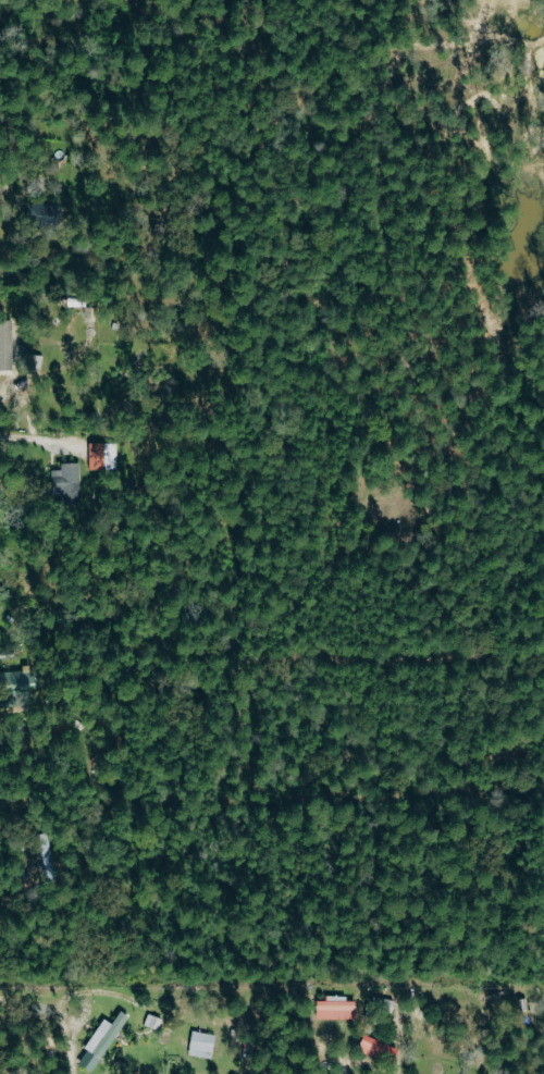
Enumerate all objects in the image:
road: (8, 212)
building: (45, 214)
building: (7, 345)
road: (22, 440)
building: (103, 457)
building: (67, 481)
building: (17, 682)
building: (46, 855)
road: (17, 900)
road: (66, 1005)
building: (337, 1008)
building: (102, 1041)
building: (202, 1045)
building: (380, 1049)
road: (334, 1050)

